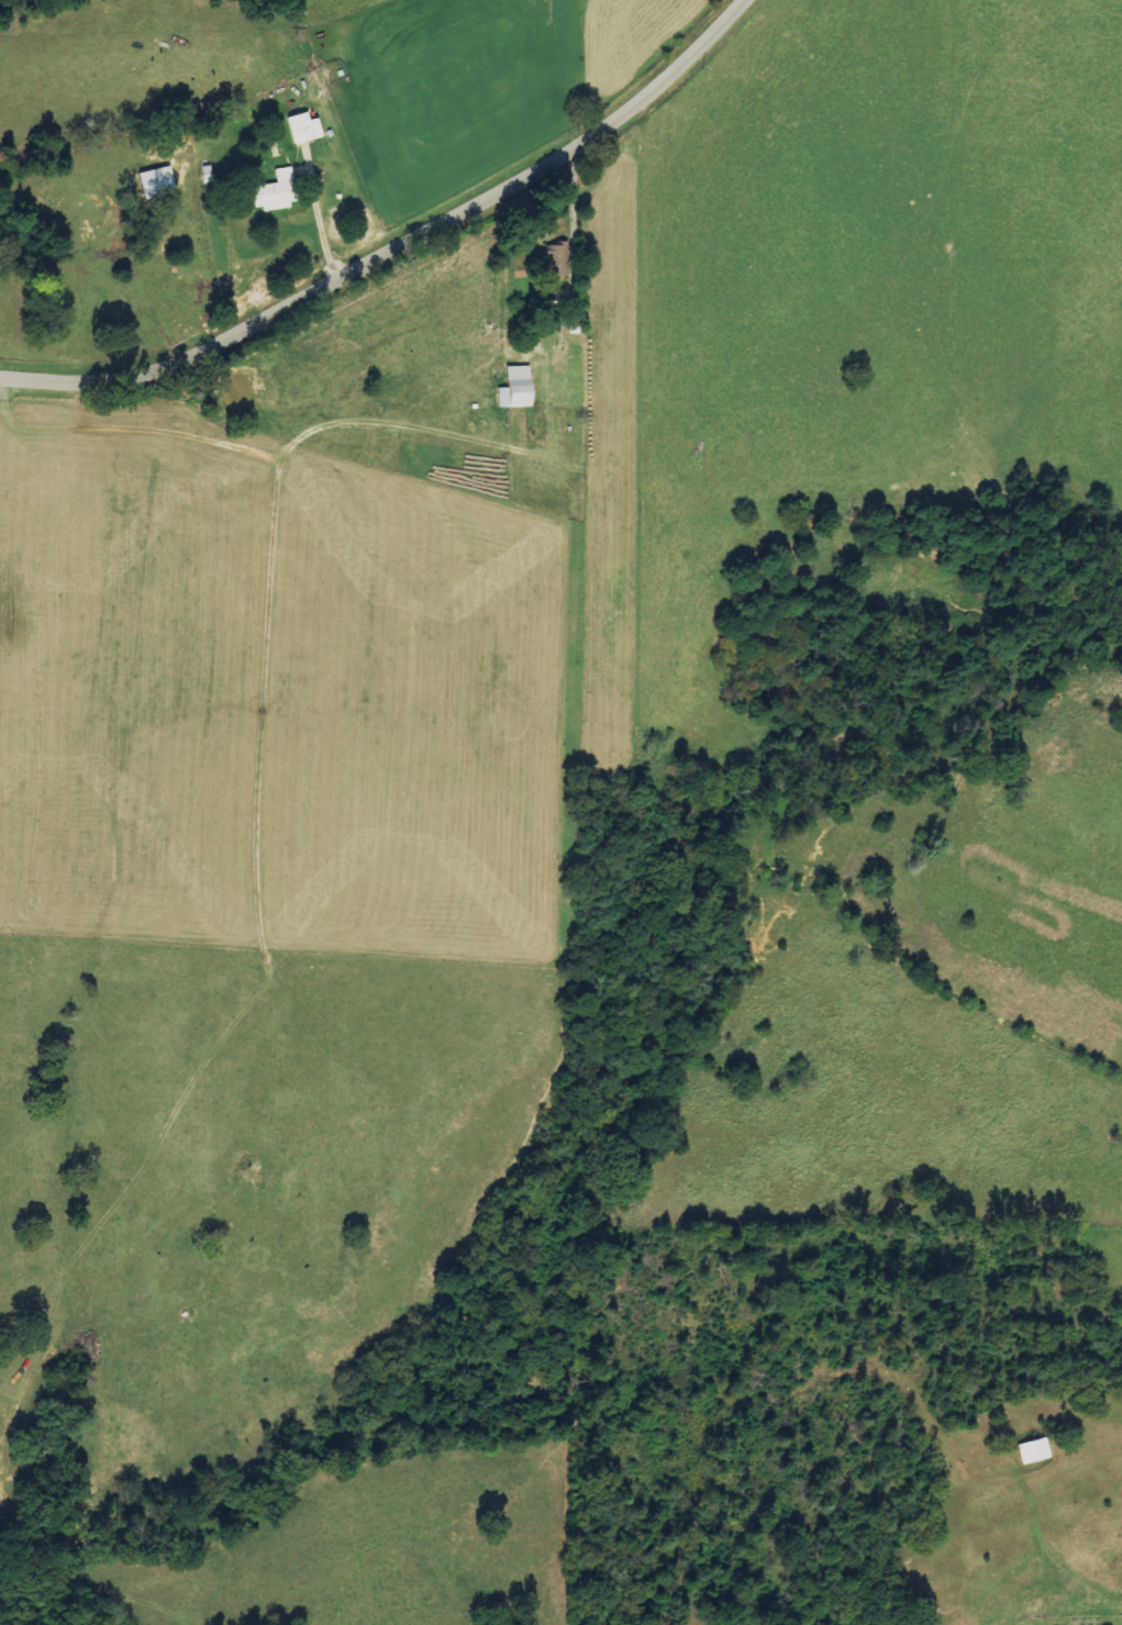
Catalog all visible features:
building: (304, 129)
building: (157, 182)
building: (276, 191)
road: (401, 248)
building: (559, 260)
building: (516, 388)
building: (1034, 1451)

